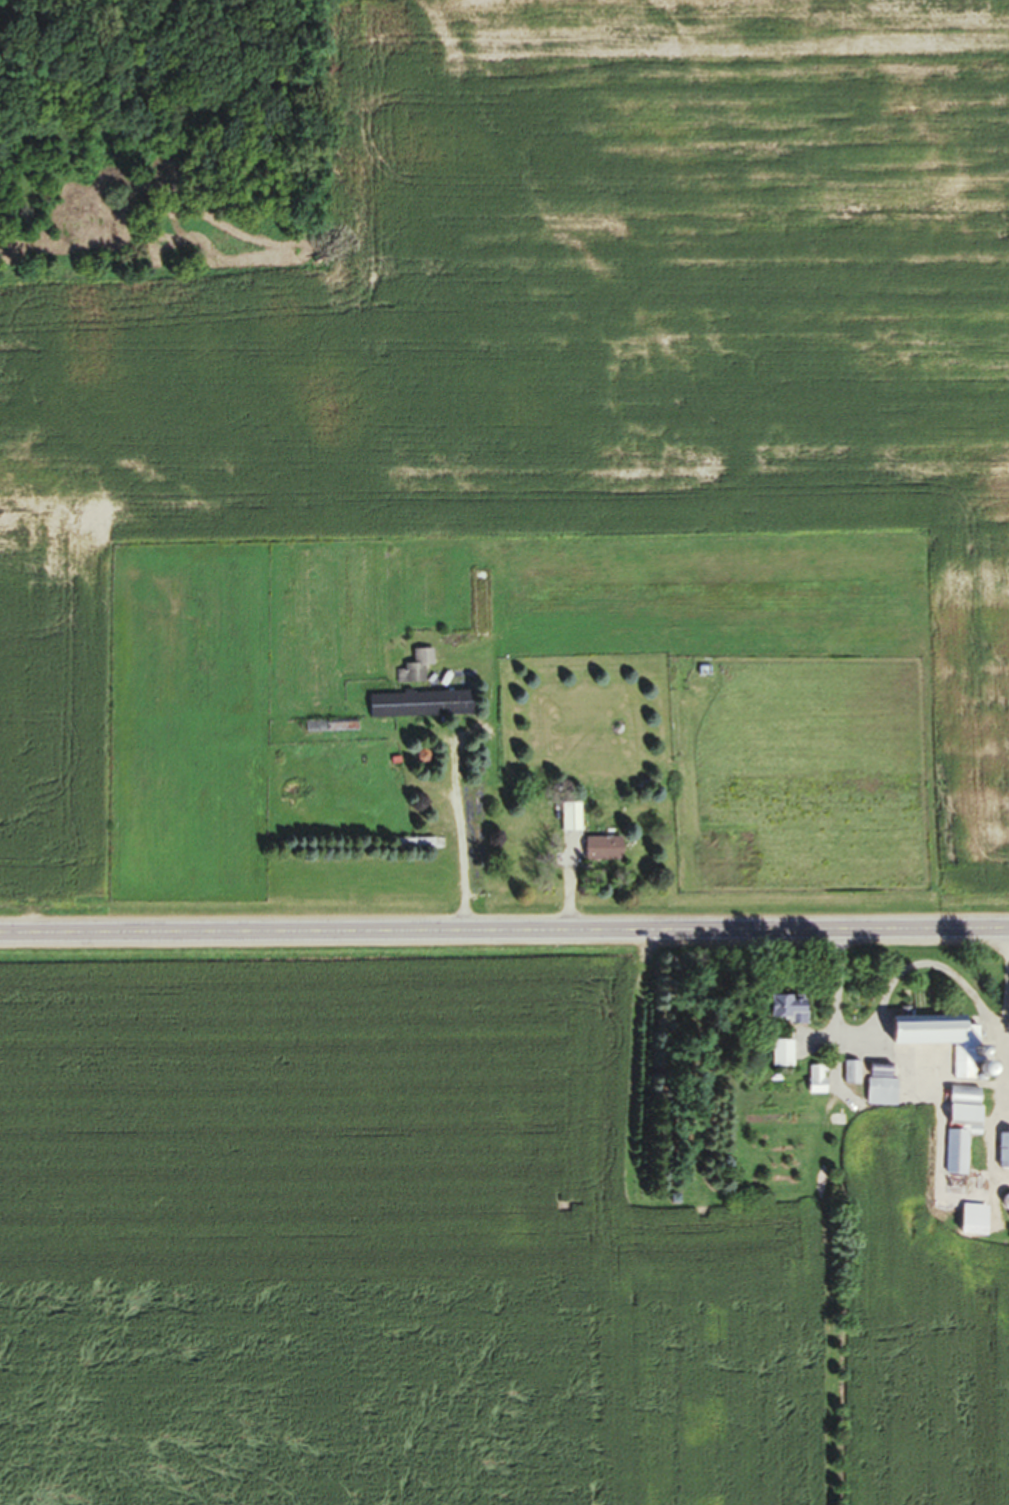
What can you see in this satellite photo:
building: (388, 592)
building: (413, 671)
building: (417, 709)
building: (313, 731)
building: (568, 822)
building: (411, 847)
building: (599, 853)
road: (504, 934)
building: (783, 1013)
building: (941, 1046)
building: (779, 1057)
building: (848, 1076)
building: (813, 1083)
building: (878, 1091)
building: (958, 1131)
building: (850, 1137)
building: (1002, 1156)
building: (970, 1225)

